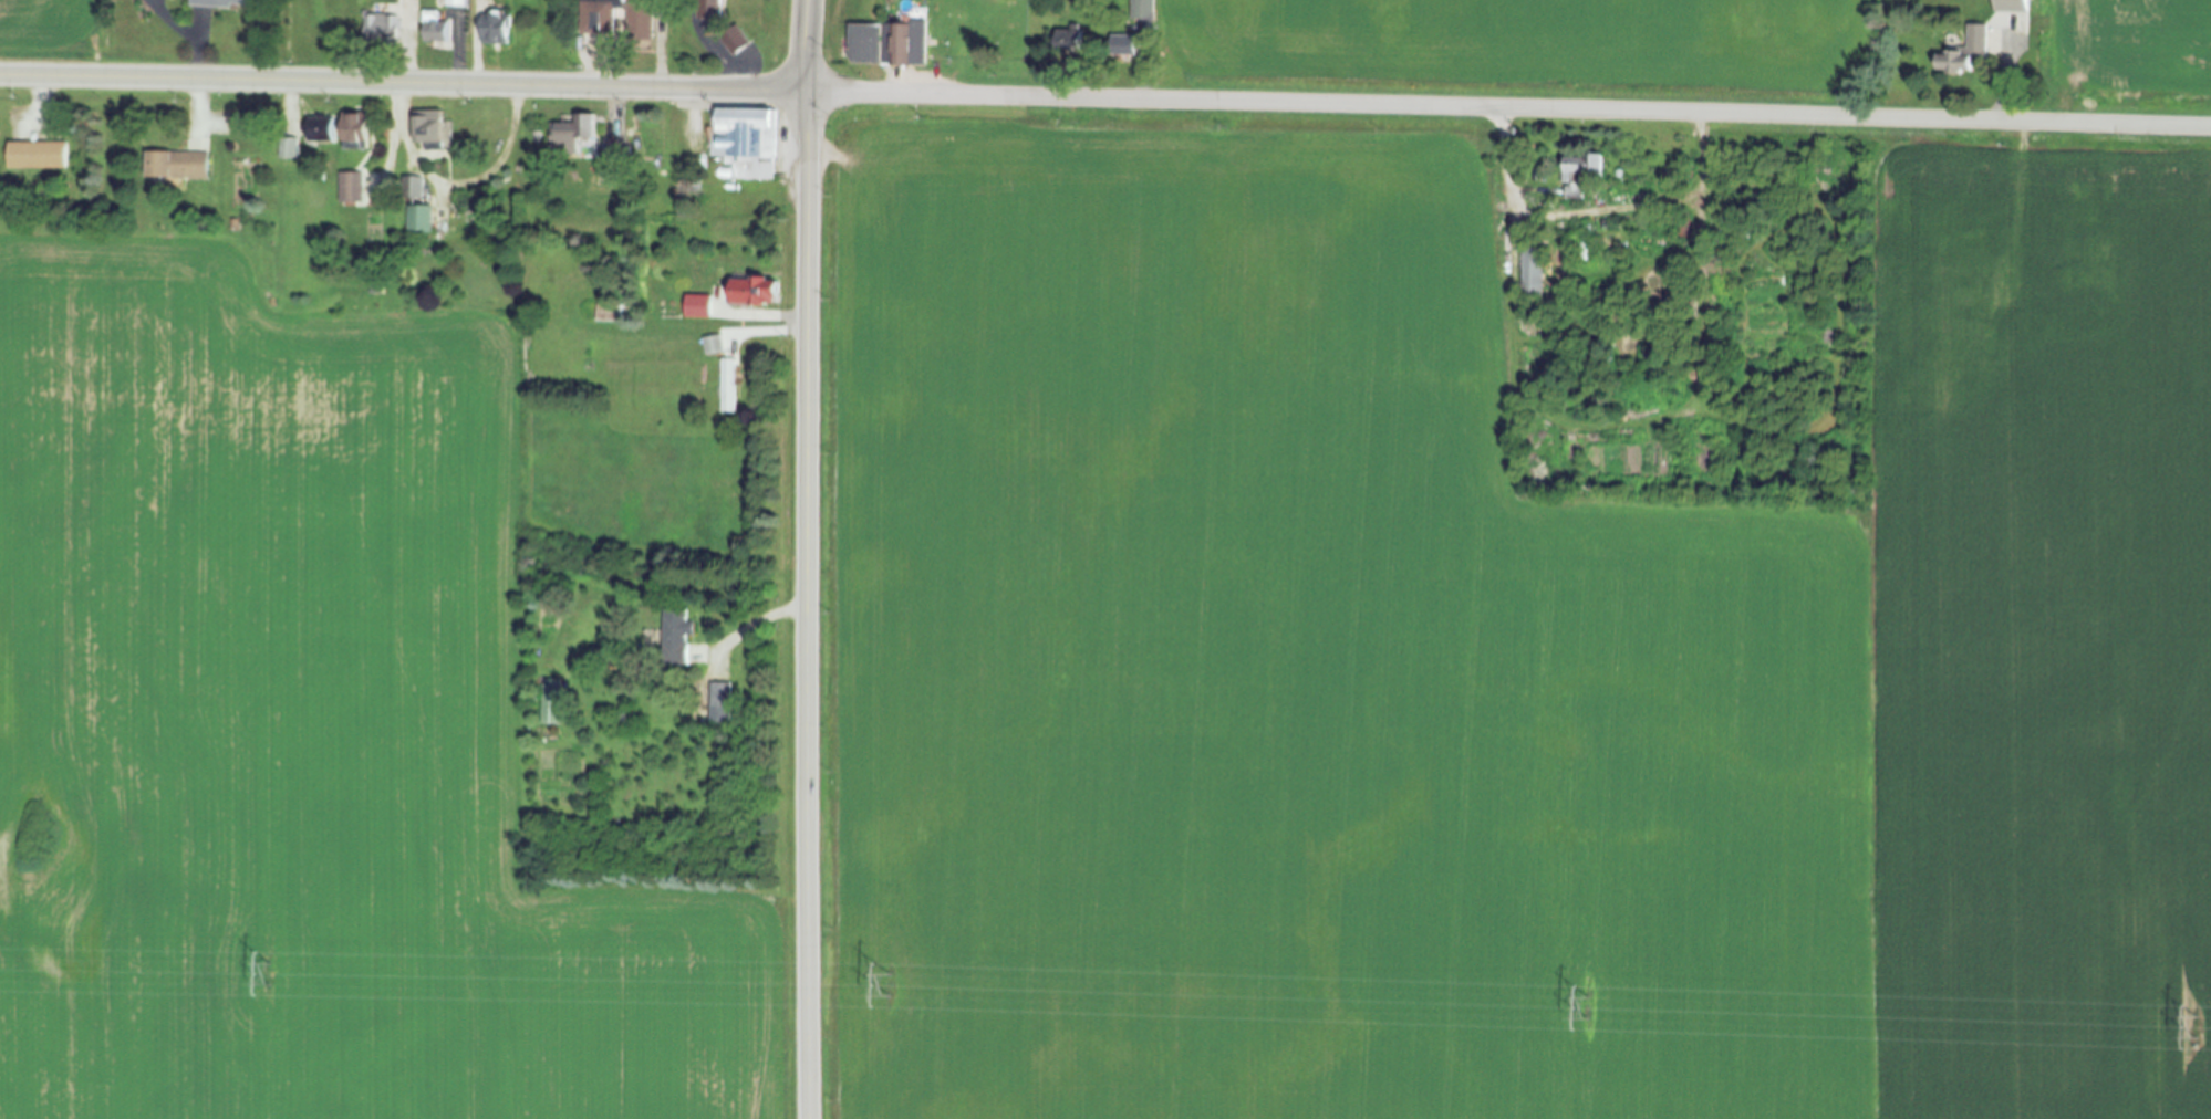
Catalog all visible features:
building: (217, 2)
building: (455, 4)
building: (714, 9)
building: (1142, 11)
building: (2011, 12)
building: (598, 17)
building: (645, 19)
building: (490, 27)
building: (436, 28)
building: (2022, 31)
building: (377, 34)
building: (1072, 39)
building: (734, 41)
building: (884, 45)
building: (1129, 45)
road: (807, 46)
building: (1962, 54)
road: (195, 83)
road: (402, 86)
road: (42, 96)
road: (1507, 109)
building: (333, 129)
building: (361, 130)
building: (428, 132)
building: (565, 137)
building: (744, 142)
building: (291, 148)
building: (35, 156)
building: (621, 158)
building: (174, 167)
building: (1571, 168)
road: (460, 186)
building: (351, 189)
road: (1591, 203)
building: (417, 210)
building: (1535, 272)
building: (2069, 284)
building: (750, 294)
building: (703, 307)
building: (612, 314)
building: (1970, 346)
building: (712, 347)
building: (728, 387)
road: (807, 605)
road: (758, 623)
building: (674, 638)
building: (556, 701)
building: (718, 703)
building: (546, 712)
power tower: (272, 974)
power tower: (892, 987)
power tower: (1591, 1008)
power tower: (2199, 1027)

